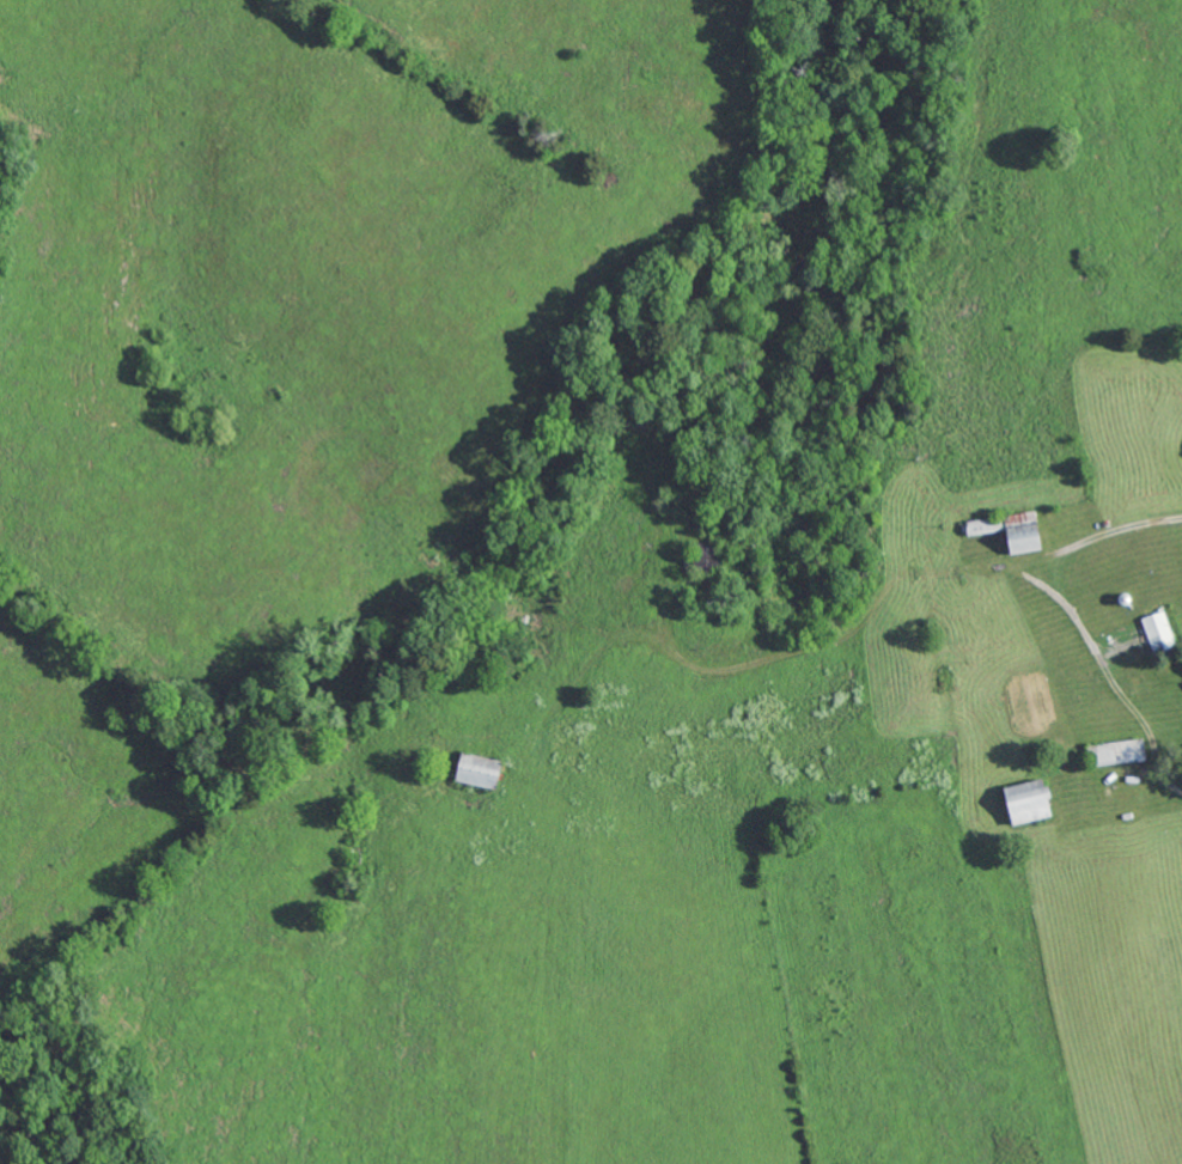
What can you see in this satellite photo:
building: (1009, 530)
building: (1158, 630)
building: (1119, 751)
building: (1025, 802)

